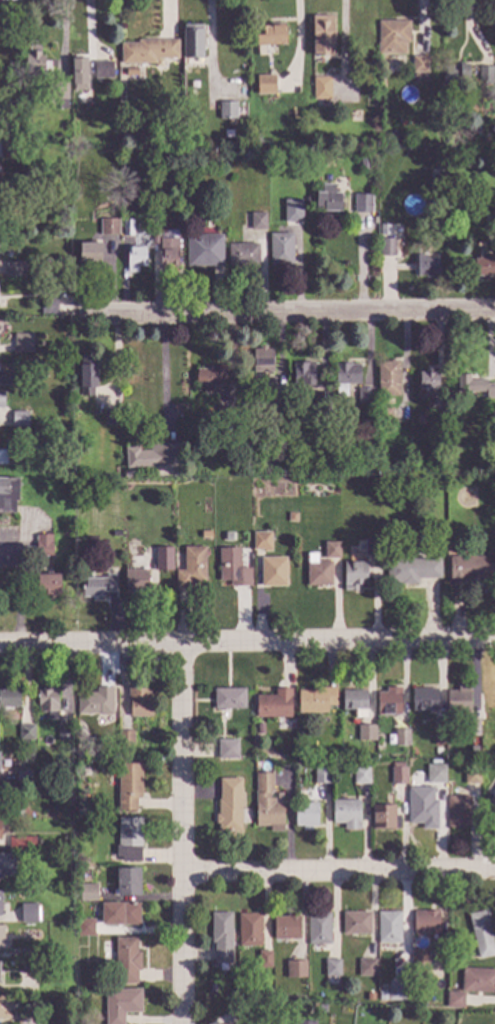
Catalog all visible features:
building: (269, 35)
building: (322, 36)
building: (391, 38)
building: (191, 42)
building: (147, 52)
building: (35, 64)
building: (419, 66)
building: (102, 70)
building: (78, 74)
building: (452, 74)
building: (484, 76)
building: (260, 87)
building: (321, 89)
building: (58, 95)
building: (227, 112)
building: (475, 130)
building: (447, 138)
building: (6, 150)
building: (363, 164)
building: (326, 198)
building: (190, 201)
building: (5, 203)
building: (177, 204)
building: (361, 204)
building: (292, 211)
building: (256, 223)
building: (492, 223)
building: (108, 229)
building: (127, 229)
building: (383, 229)
building: (386, 248)
building: (279, 249)
building: (203, 251)
building: (167, 253)
building: (88, 255)
building: (242, 257)
building: (134, 260)
building: (426, 267)
building: (482, 268)
building: (14, 271)
building: (47, 306)
road: (282, 315)
building: (22, 344)
building: (262, 361)
road: (163, 374)
building: (302, 375)
building: (86, 377)
building: (4, 378)
building: (345, 378)
building: (388, 378)
building: (209, 379)
building: (428, 382)
building: (473, 387)
building: (365, 396)
building: (275, 402)
building: (320, 403)
building: (1, 407)
building: (224, 416)
building: (492, 417)
building: (112, 418)
building: (19, 420)
building: (272, 421)
building: (381, 421)
building: (437, 425)
building: (151, 456)
building: (14, 458)
building: (123, 474)
building: (7, 495)
building: (291, 518)
building: (116, 534)
building: (204, 536)
building: (262, 541)
building: (42, 546)
building: (371, 548)
building: (330, 551)
building: (163, 560)
building: (190, 569)
building: (232, 569)
building: (471, 570)
building: (412, 571)
building: (272, 573)
building: (353, 574)
building: (318, 575)
building: (134, 583)
building: (47, 586)
building: (96, 587)
road: (247, 645)
building: (228, 700)
building: (8, 701)
building: (315, 701)
building: (423, 701)
building: (457, 702)
building: (94, 703)
building: (137, 703)
building: (46, 704)
building: (354, 704)
building: (388, 704)
building: (272, 706)
building: (258, 728)
building: (472, 730)
building: (25, 734)
building: (259, 734)
building: (365, 734)
building: (64, 735)
building: (114, 738)
building: (437, 738)
building: (299, 739)
building: (401, 740)
building: (125, 741)
building: (24, 747)
building: (493, 749)
building: (473, 750)
building: (226, 751)
building: (437, 752)
building: (84, 774)
building: (397, 775)
building: (434, 776)
building: (320, 777)
building: (360, 777)
building: (470, 777)
building: (21, 778)
building: (262, 784)
building: (127, 788)
building: (228, 807)
building: (490, 807)
building: (421, 809)
building: (457, 813)
building: (14, 814)
building: (267, 814)
building: (345, 815)
building: (305, 817)
building: (383, 819)
road: (183, 835)
building: (0, 839)
building: (128, 841)
building: (21, 846)
building: (6, 867)
building: (63, 873)
road: (340, 874)
building: (127, 883)
building: (86, 892)
building: (0, 905)
building: (119, 916)
building: (28, 917)
building: (425, 924)
building: (355, 925)
building: (285, 928)
building: (83, 929)
building: (387, 929)
building: (317, 930)
building: (248, 931)
building: (480, 935)
building: (220, 939)
building: (2, 944)
building: (27, 954)
building: (263, 961)
building: (419, 961)
building: (125, 962)
building: (27, 968)
building: (331, 969)
building: (294, 970)
building: (365, 970)
building: (477, 982)
building: (395, 993)
building: (381, 999)
building: (454, 1002)
building: (120, 1005)
building: (4, 1008)
building: (24, 1020)

